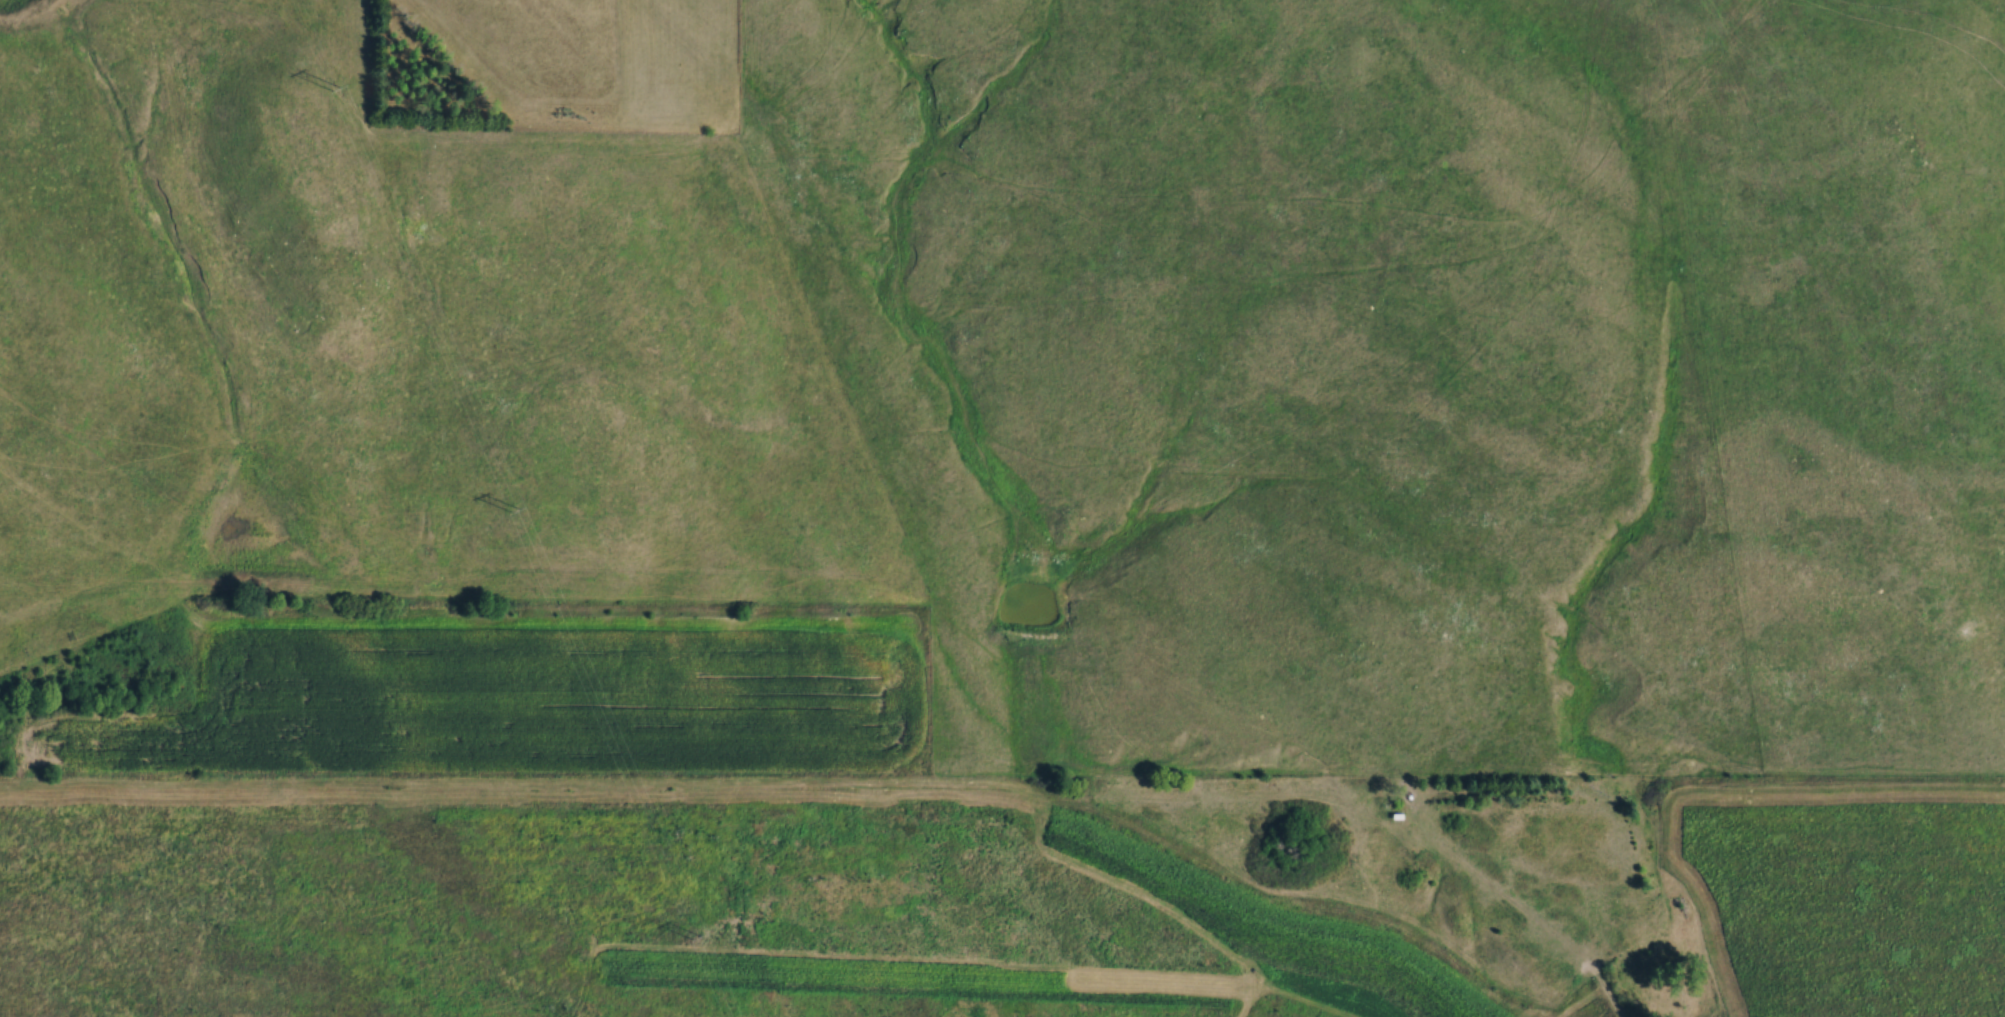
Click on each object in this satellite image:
power tower: (340, 89)
power tower: (521, 508)
power tower: (700, 935)

